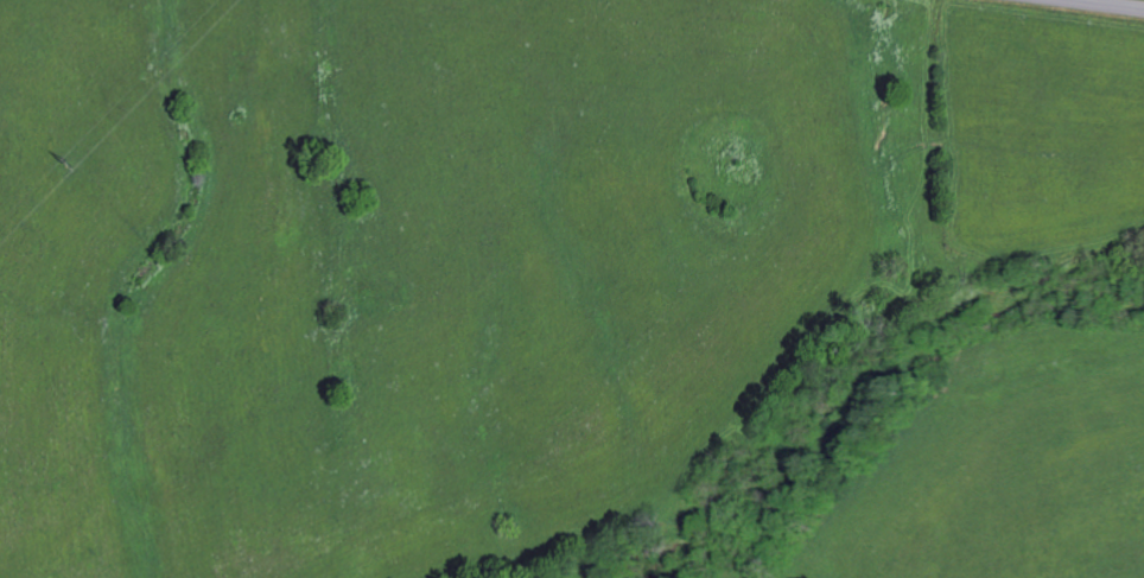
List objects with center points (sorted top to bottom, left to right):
road: (1086, 1)
road: (1102, 4)

